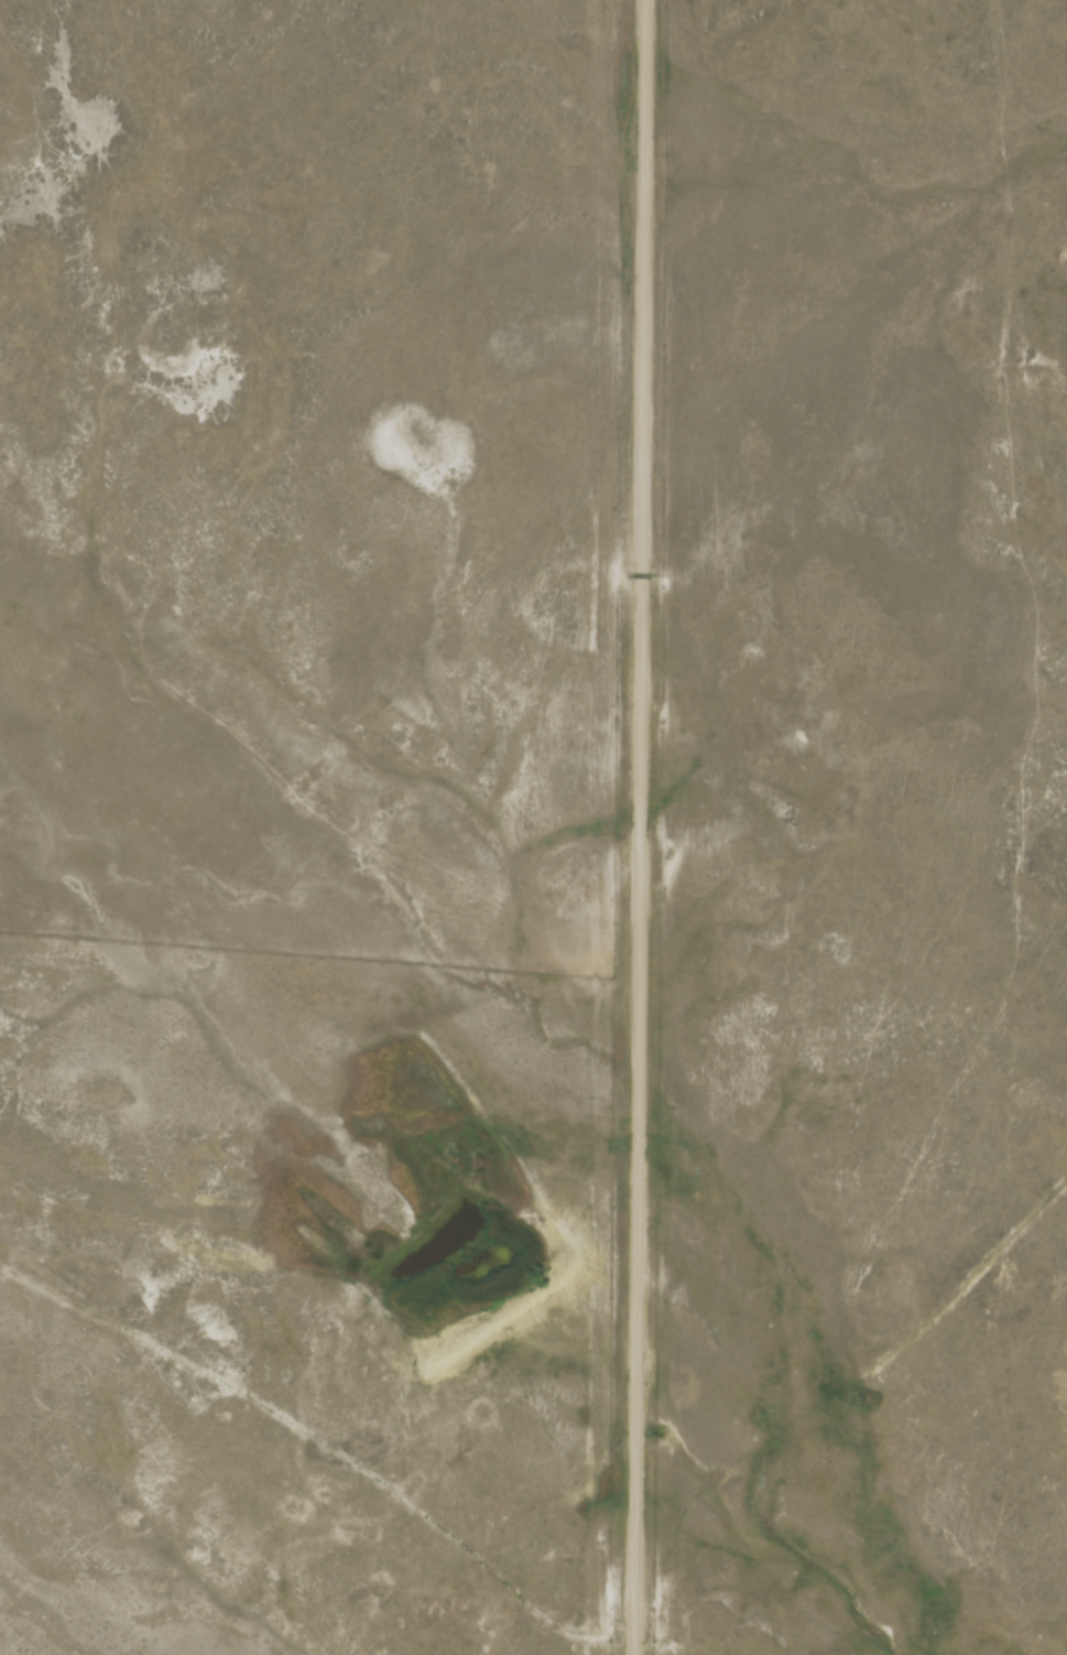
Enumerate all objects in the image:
road: (644, 827)

